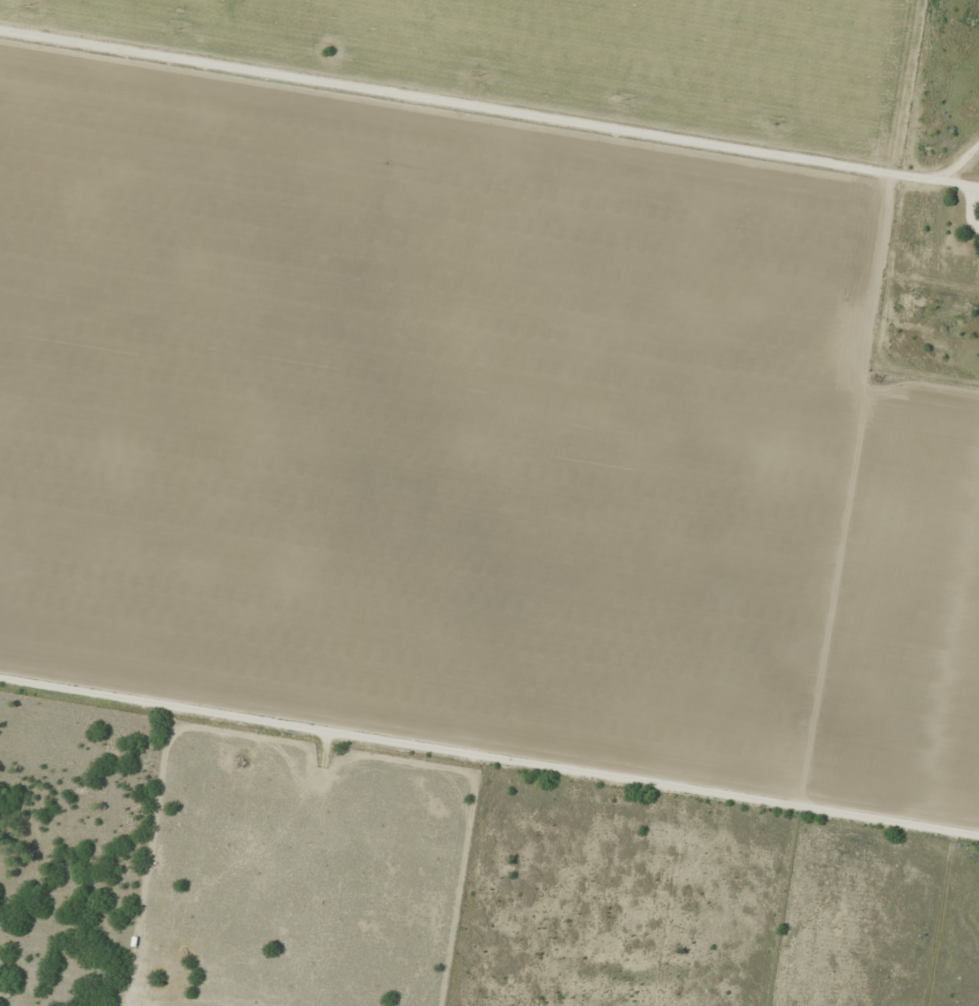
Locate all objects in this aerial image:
road: (461, 105)
road: (952, 166)
road: (951, 184)
road: (489, 763)

